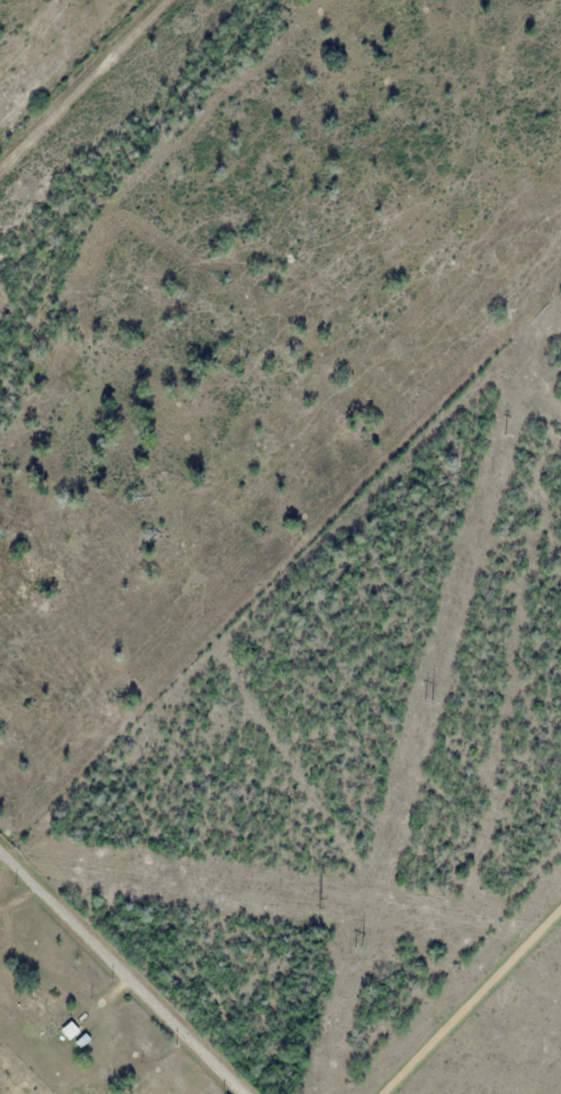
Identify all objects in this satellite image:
power tower: (318, 903)
road: (128, 967)
road: (475, 1004)
building: (47, 1019)

